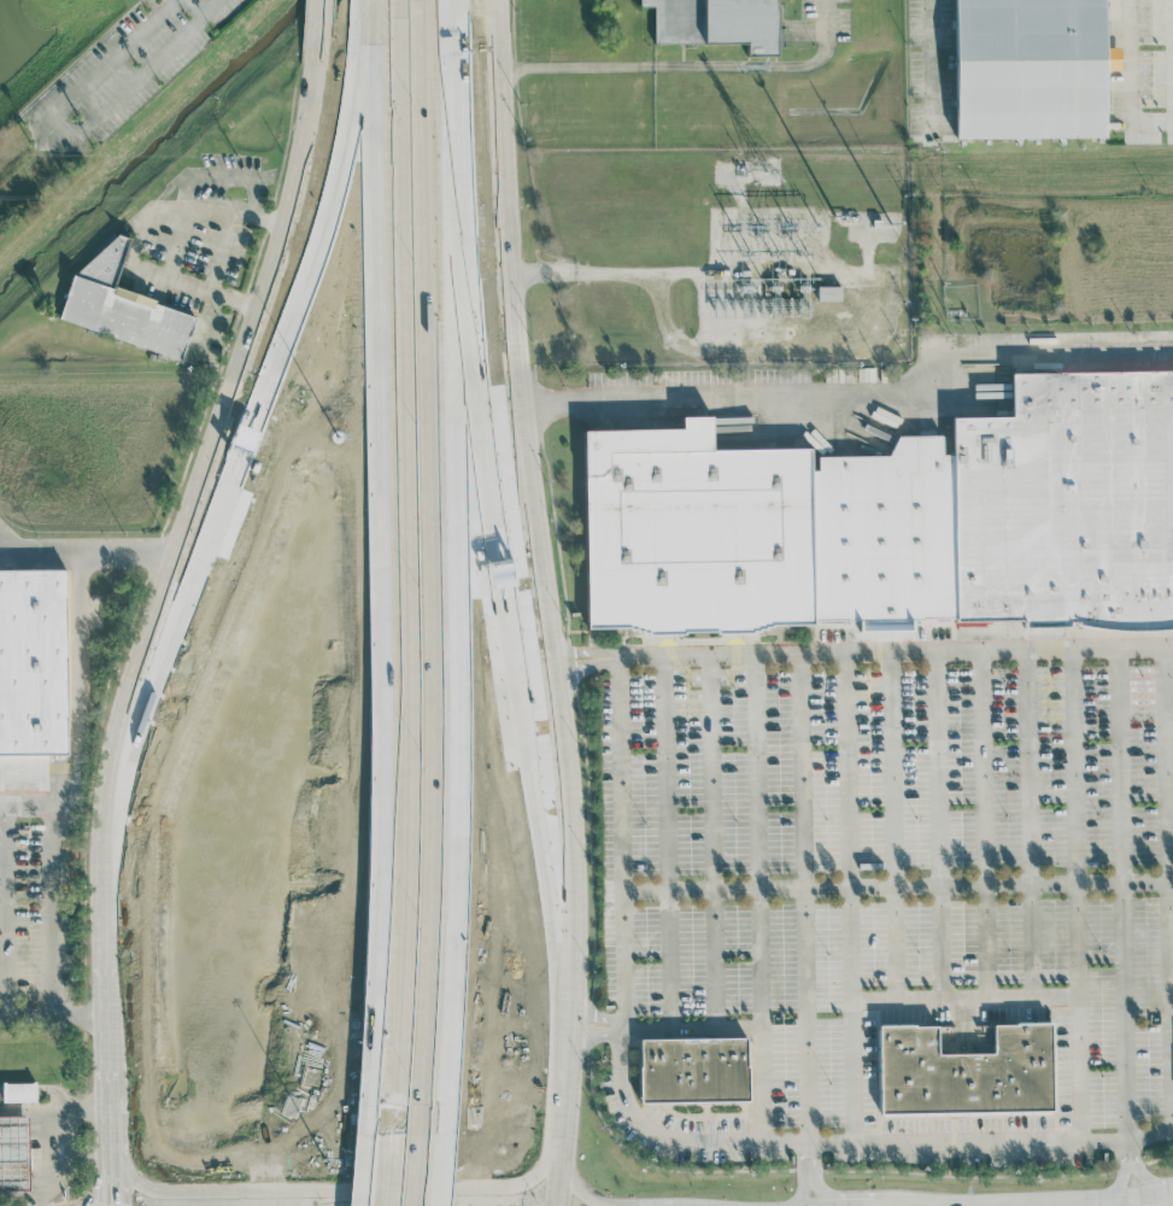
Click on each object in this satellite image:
road: (201, 6)
building: (717, 22)
road: (324, 25)
road: (107, 63)
road: (686, 65)
road: (931, 65)
building: (1028, 68)
road: (137, 80)
road: (1130, 83)
road: (362, 142)
road: (457, 239)
road: (180, 244)
power substation: (731, 251)
road: (627, 279)
building: (829, 292)
building: (124, 301)
road: (298, 339)
toll booth: (299, 339)
road: (685, 345)
road: (852, 396)
building: (1067, 499)
road: (209, 528)
building: (693, 531)
building: (882, 533)
building: (491, 555)
road: (88, 556)
toll booth: (491, 557)
road: (399, 561)
road: (430, 567)
road: (495, 589)
road: (165, 593)
road: (545, 603)
road: (586, 649)
road: (897, 652)
road: (588, 665)
building: (30, 687)
road: (81, 716)
road: (544, 862)
road: (896, 884)
road: (1124, 894)
road: (803, 897)
parking lot: (886, 909)
road: (53, 913)
parking lot: (39, 920)
road: (592, 1014)
road: (53, 1019)
road: (594, 1035)
building: (375, 1036)
building: (693, 1070)
building: (966, 1071)
building: (18, 1090)
road: (54, 1107)
road: (647, 1126)
road: (1138, 1136)
building: (13, 1153)
road: (807, 1153)
road: (47, 1154)
road: (78, 1154)
road: (385, 1164)
road: (808, 1166)
road: (412, 1170)
road: (575, 1178)
road: (110, 1179)
road: (1148, 1182)
road: (1119, 1184)
road: (328, 1188)
road: (22, 1199)
road: (43, 1202)
road: (1112, 1202)

